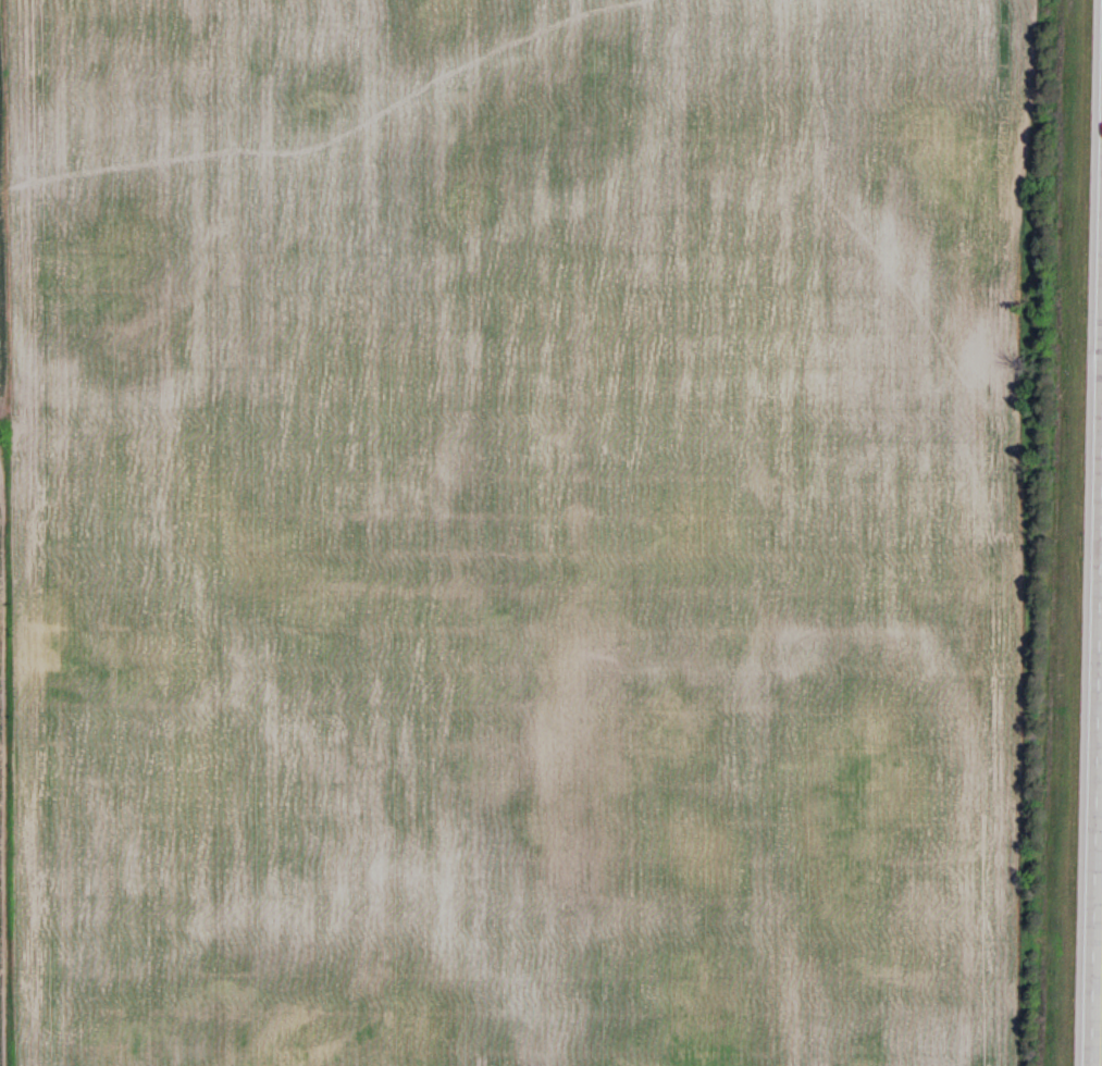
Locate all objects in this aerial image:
road: (1094, 671)

